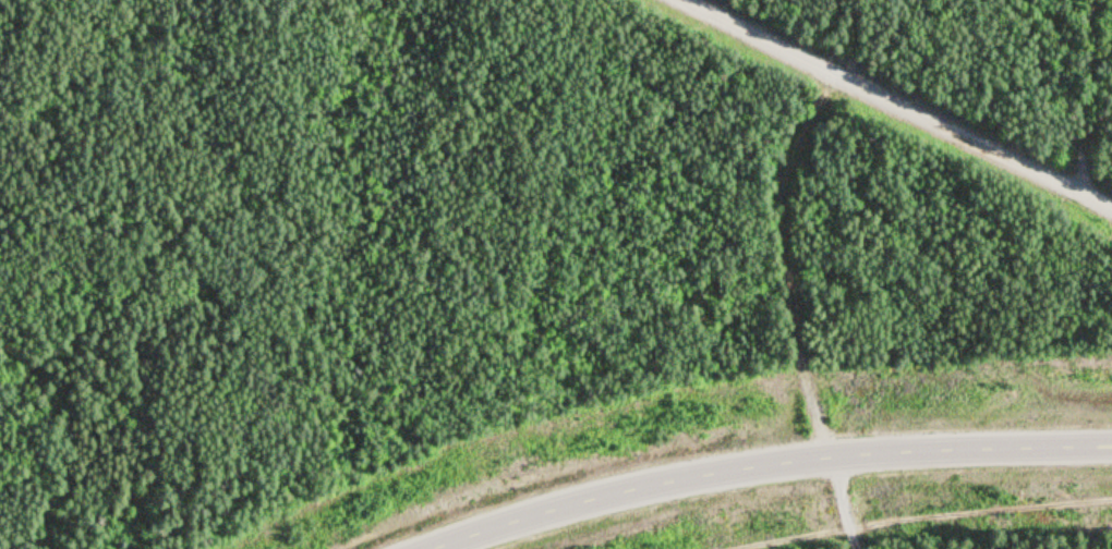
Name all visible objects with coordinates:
road: (803, 29)
road: (892, 108)
road: (793, 310)
road: (764, 463)

